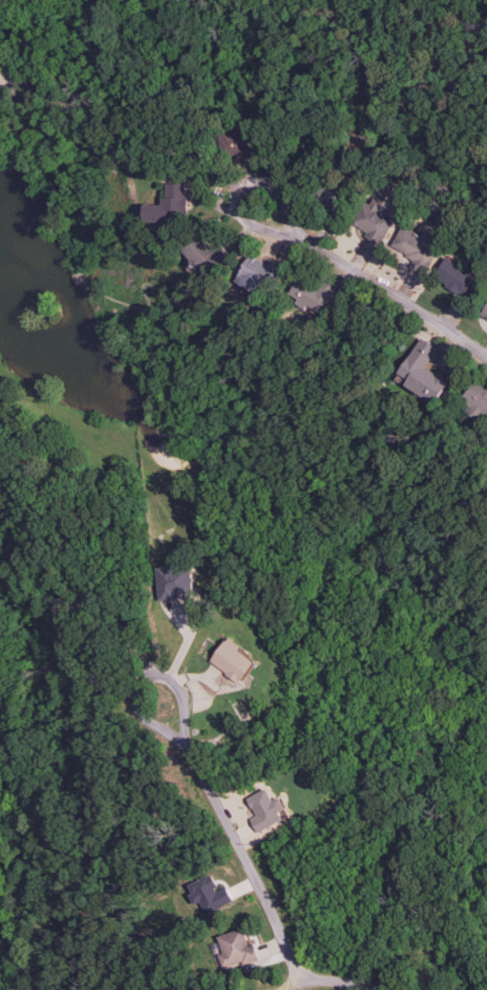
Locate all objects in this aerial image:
building: (2, 58)
building: (1, 87)
building: (240, 141)
building: (169, 205)
building: (375, 221)
building: (417, 247)
building: (204, 255)
building: (259, 274)
building: (457, 278)
road: (374, 281)
building: (314, 294)
building: (484, 312)
building: (422, 372)
building: (476, 400)
road: (284, 516)
road: (71, 573)
building: (173, 582)
building: (233, 660)
road: (207, 780)
building: (265, 809)
building: (209, 893)
building: (236, 949)
road: (327, 977)

